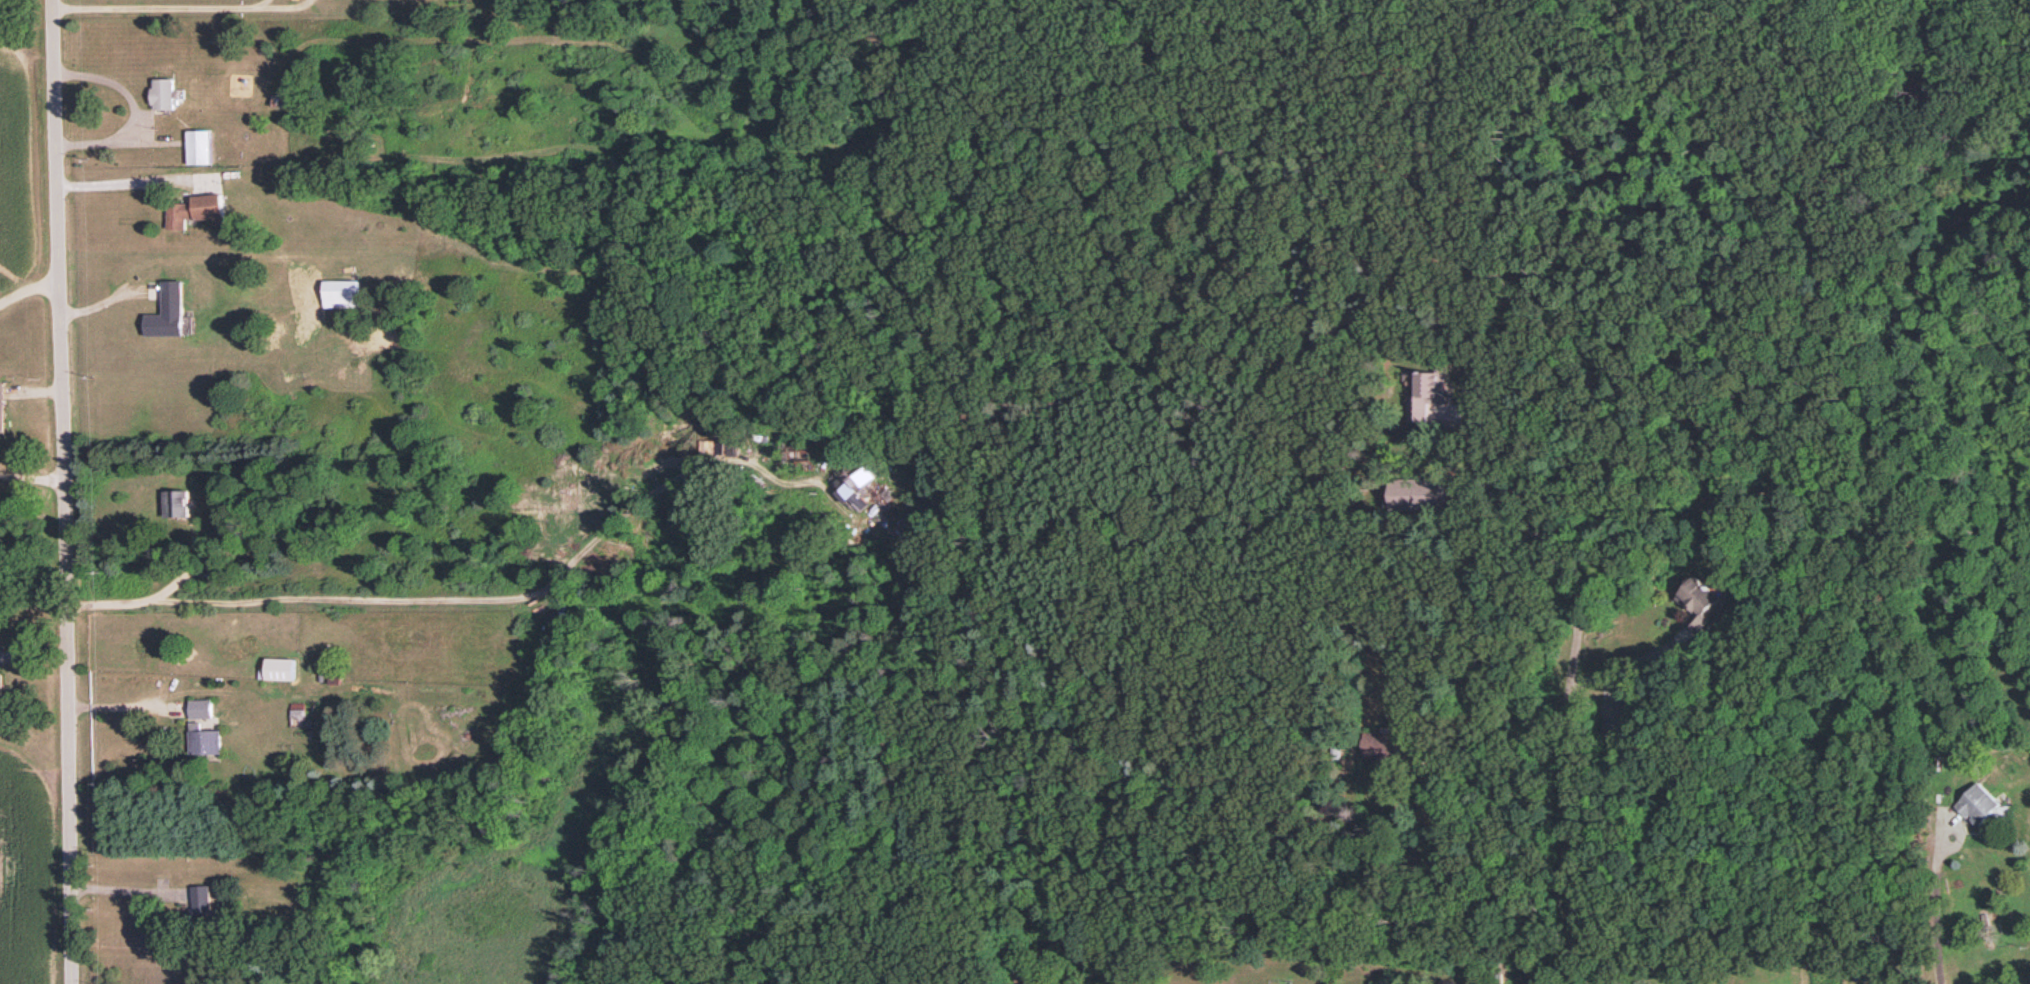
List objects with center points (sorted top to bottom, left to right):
road: (162, 7)
building: (165, 93)
road: (134, 110)
building: (200, 145)
road: (128, 181)
building: (195, 209)
road: (27, 290)
building: (340, 292)
building: (167, 311)
building: (1426, 393)
building: (1, 404)
road: (29, 474)
building: (856, 486)
road: (59, 491)
building: (1422, 492)
building: (175, 502)
road: (1532, 528)
road: (430, 596)
building: (1698, 601)
road: (1629, 662)
building: (280, 668)
building: (1, 687)
road: (117, 706)
building: (201, 707)
building: (299, 713)
building: (1616, 717)
building: (205, 739)
building: (1382, 747)
building: (1978, 803)
road: (1568, 812)
crop: (17, 865)
road: (121, 890)
building: (203, 901)
road: (1929, 906)

